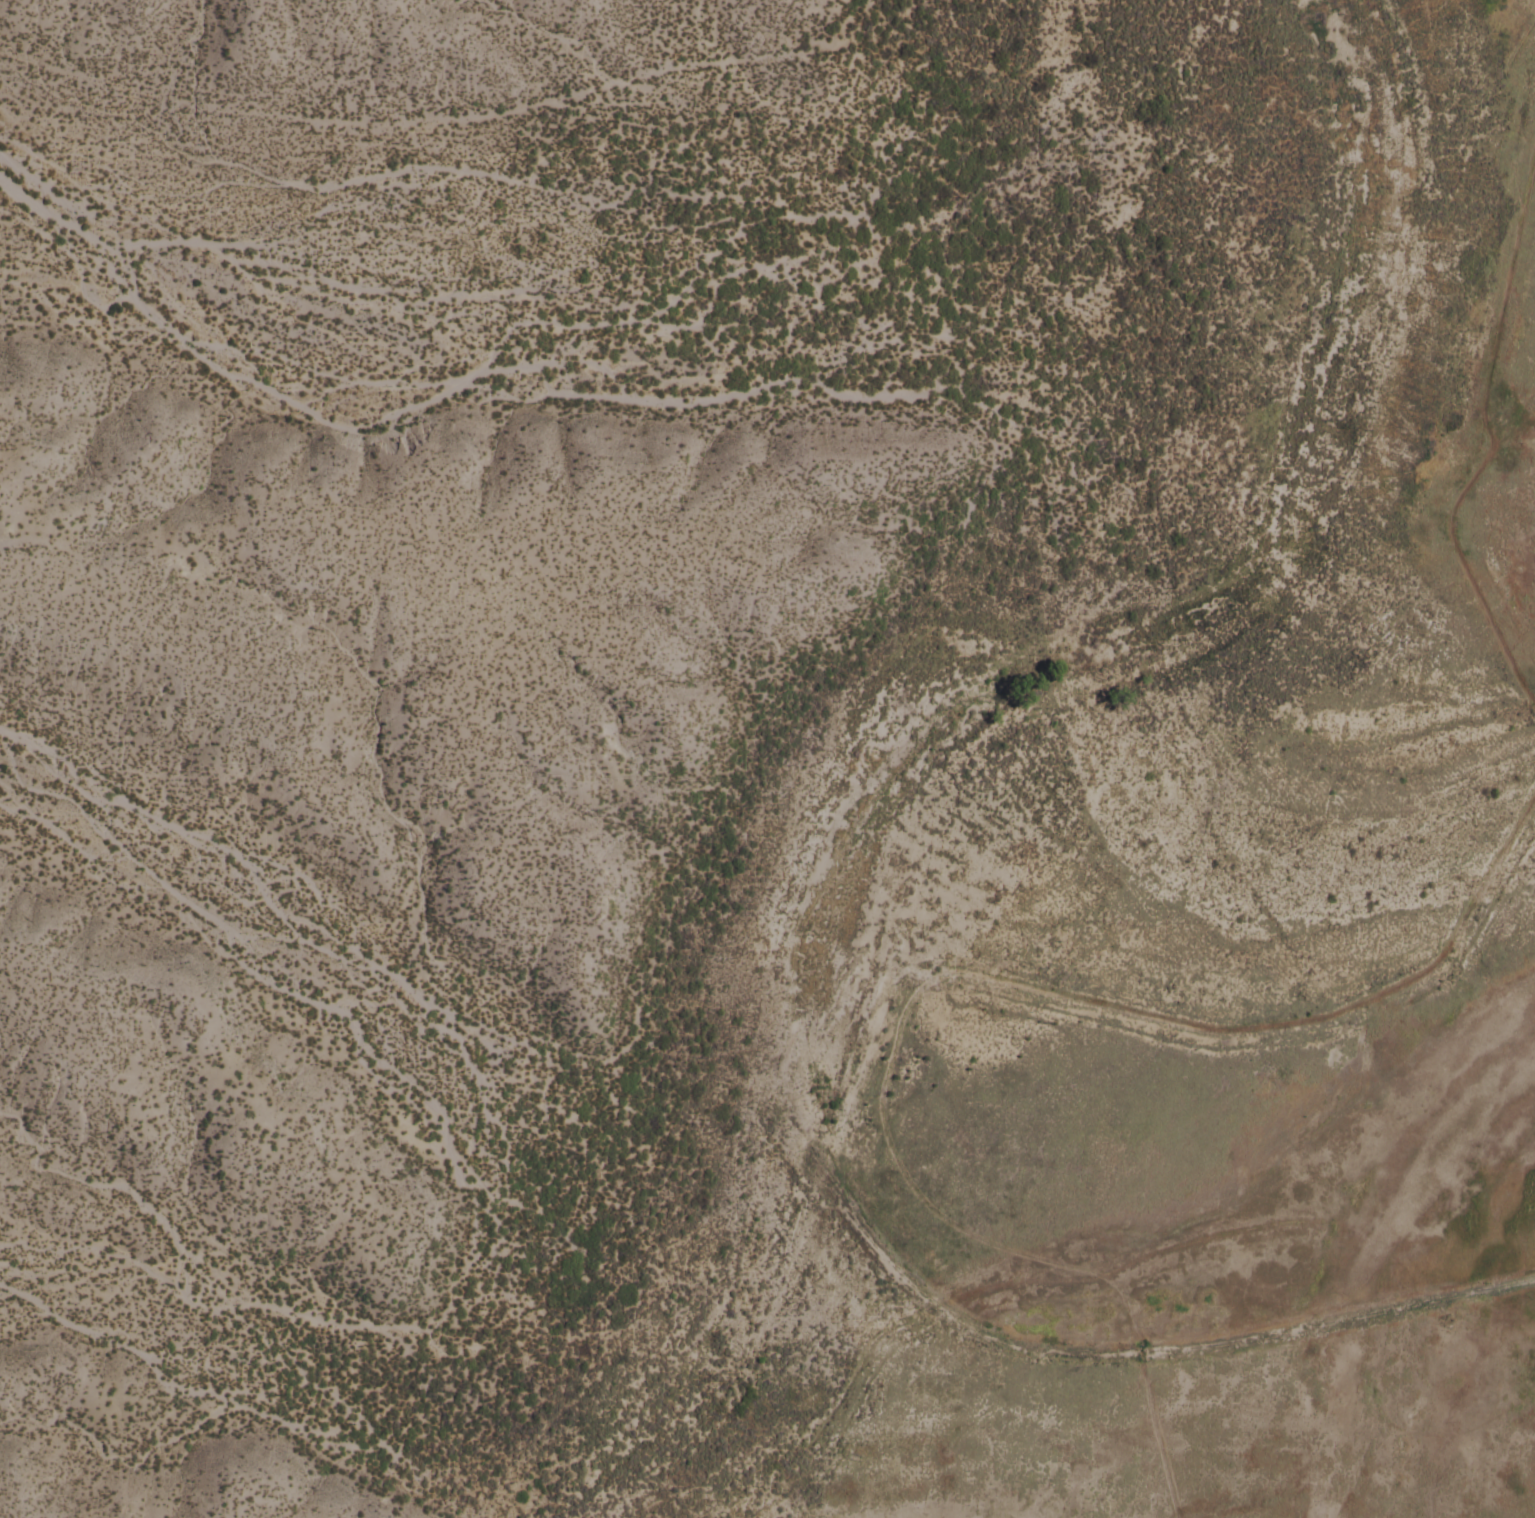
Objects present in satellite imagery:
road: (1355, 1317)
road: (1166, 1350)

